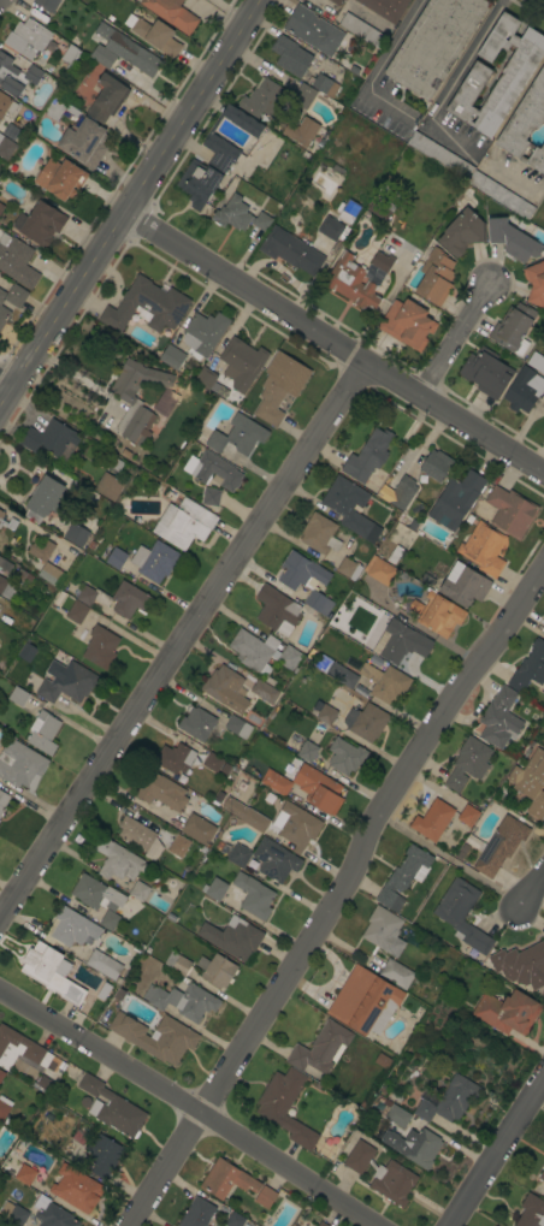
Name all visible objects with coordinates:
building: (336, 1)
building: (47, 5)
building: (386, 8)
building: (172, 13)
building: (313, 30)
building: (362, 30)
building: (156, 36)
building: (26, 37)
building: (433, 43)
building: (123, 51)
building: (70, 54)
building: (290, 55)
road: (378, 67)
building: (353, 69)
building: (32, 73)
building: (8, 76)
building: (323, 84)
building: (507, 88)
building: (303, 94)
building: (107, 97)
building: (264, 99)
building: (6, 105)
building: (525, 124)
building: (12, 134)
building: (306, 134)
building: (84, 142)
building: (6, 147)
building: (439, 154)
building: (214, 159)
building: (60, 178)
building: (501, 195)
road: (130, 205)
building: (1, 207)
building: (380, 208)
building: (347, 209)
building: (240, 215)
building: (40, 223)
building: (332, 229)
building: (462, 232)
building: (513, 239)
building: (290, 250)
building: (16, 260)
building: (382, 261)
building: (434, 277)
building: (351, 282)
building: (534, 283)
road: (242, 289)
building: (1, 295)
building: (16, 295)
building: (146, 306)
building: (4, 315)
building: (407, 324)
building: (512, 326)
building: (202, 333)
road: (451, 342)
building: (171, 356)
building: (534, 361)
building: (241, 363)
building: (486, 372)
building: (207, 380)
road: (7, 381)
building: (279, 386)
building: (524, 390)
building: (165, 403)
road: (451, 420)
building: (235, 437)
building: (49, 438)
building: (125, 452)
building: (368, 455)
road: (538, 458)
building: (114, 463)
building: (436, 464)
building: (215, 470)
building: (108, 486)
building: (398, 492)
building: (211, 497)
building: (45, 499)
building: (456, 499)
building: (350, 507)
building: (510, 511)
building: (468, 519)
building: (184, 523)
building: (412, 523)
building: (6, 529)
building: (76, 534)
building: (319, 534)
building: (483, 549)
building: (41, 550)
building: (394, 553)
building: (116, 558)
building: (155, 561)
building: (349, 568)
building: (379, 570)
building: (52, 575)
building: (306, 580)
building: (463, 585)
building: (6, 587)
building: (117, 599)
building: (414, 606)
building: (277, 610)
building: (77, 611)
building: (439, 614)
road: (179, 641)
building: (402, 642)
building: (100, 647)
building: (26, 652)
building: (261, 653)
building: (374, 661)
building: (351, 664)
building: (528, 668)
building: (341, 675)
building: (66, 681)
building: (385, 682)
building: (225, 688)
building: (264, 692)
building: (18, 697)
building: (317, 704)
building: (326, 715)
building: (499, 718)
building: (366, 722)
building: (197, 723)
building: (238, 727)
building: (43, 732)
building: (307, 751)
building: (345, 756)
building: (175, 758)
building: (213, 762)
building: (468, 763)
building: (20, 764)
building: (224, 768)
building: (276, 782)
building: (530, 782)
building: (318, 789)
building: (160, 790)
building: (2, 800)
building: (244, 813)
building: (468, 815)
building: (432, 819)
building: (297, 827)
building: (197, 829)
building: (140, 837)
building: (498, 845)
building: (177, 847)
building: (238, 855)
building: (117, 860)
building: (274, 860)
building: (403, 877)
building: (214, 889)
building: (138, 890)
road: (534, 890)
building: (96, 894)
road: (341, 894)
building: (254, 895)
building: (462, 914)
building: (110, 920)
building: (70, 928)
building: (384, 931)
building: (233, 937)
building: (177, 963)
building: (104, 964)
building: (521, 965)
building: (215, 970)
building: (51, 972)
building: (396, 973)
building: (183, 1001)
building: (365, 1001)
building: (507, 1012)
building: (155, 1037)
building: (19, 1048)
building: (320, 1049)
building: (1, 1074)
building: (447, 1100)
building: (285, 1106)
building: (4, 1107)
building: (112, 1108)
road: (187, 1108)
building: (395, 1112)
building: (420, 1147)
road: (497, 1151)
building: (102, 1155)
building: (18, 1171)
building: (382, 1173)
building: (542, 1174)
building: (226, 1179)
building: (76, 1189)
building: (265, 1196)
building: (531, 1212)
building: (13, 1213)
building: (197, 1213)
building: (52, 1214)
building: (237, 1220)
building: (321, 1224)

